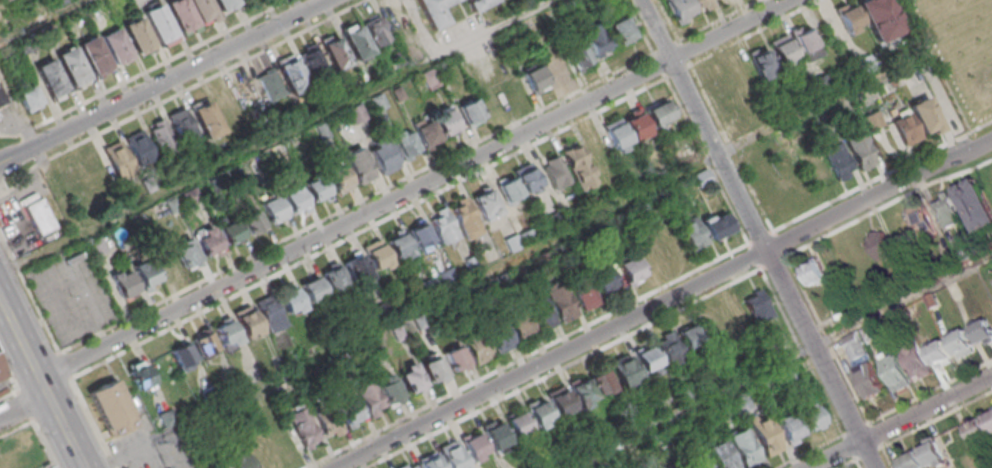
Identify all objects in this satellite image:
building: (1, 0)
building: (224, 3)
building: (478, 4)
building: (700, 5)
road: (911, 6)
building: (201, 8)
building: (678, 10)
building: (433, 12)
building: (180, 13)
building: (849, 17)
building: (880, 18)
road: (41, 20)
road: (715, 20)
building: (158, 22)
road: (420, 28)
road: (492, 28)
building: (620, 29)
building: (376, 30)
road: (750, 33)
building: (137, 34)
building: (595, 39)
building: (355, 40)
building: (806, 43)
building: (115, 45)
road: (665, 46)
building: (782, 50)
building: (333, 51)
building: (93, 54)
building: (577, 55)
building: (312, 58)
building: (761, 63)
building: (72, 65)
building: (556, 65)
road: (936, 65)
road: (676, 70)
road: (146, 71)
building: (291, 73)
building: (50, 78)
building: (534, 78)
building: (429, 79)
road: (163, 81)
building: (719, 84)
building: (270, 86)
road: (178, 93)
building: (2, 99)
building: (28, 99)
building: (378, 101)
building: (469, 111)
building: (657, 112)
building: (355, 113)
building: (206, 118)
building: (444, 122)
building: (916, 122)
building: (636, 124)
building: (182, 127)
building: (426, 133)
building: (617, 135)
building: (161, 137)
building: (404, 142)
building: (139, 147)
building: (860, 150)
road: (40, 153)
building: (381, 154)
building: (117, 159)
building: (838, 161)
road: (217, 165)
building: (577, 165)
building: (361, 170)
building: (554, 171)
road: (881, 176)
building: (339, 177)
building: (527, 179)
building: (315, 187)
road: (416, 188)
building: (508, 189)
building: (294, 197)
building: (483, 201)
building: (975, 204)
building: (172, 206)
building: (272, 208)
building: (947, 210)
road: (333, 213)
building: (39, 217)
building: (466, 219)
building: (251, 221)
building: (922, 221)
building: (443, 226)
building: (717, 226)
road: (369, 227)
building: (229, 231)
building: (419, 234)
road: (759, 234)
road: (761, 236)
building: (694, 239)
building: (207, 241)
building: (512, 242)
building: (880, 244)
building: (97, 245)
building: (398, 245)
road: (804, 247)
building: (186, 253)
building: (377, 256)
building: (354, 267)
building: (628, 268)
building: (815, 272)
building: (145, 273)
building: (446, 276)
building: (333, 278)
building: (603, 278)
road: (470, 281)
building: (123, 284)
building: (312, 288)
road: (28, 293)
building: (585, 295)
building: (289, 299)
building: (560, 299)
road: (662, 302)
building: (758, 307)
building: (268, 311)
building: (540, 311)
building: (247, 321)
building: (518, 324)
building: (982, 331)
building: (226, 332)
building: (497, 336)
building: (690, 336)
road: (19, 338)
building: (859, 341)
building: (961, 343)
building: (205, 344)
building: (476, 347)
building: (783, 347)
building: (671, 350)
road: (801, 351)
building: (940, 353)
building: (182, 356)
road: (528, 356)
building: (454, 357)
building: (649, 360)
road: (782, 361)
building: (916, 362)
road: (63, 365)
building: (432, 368)
road: (563, 369)
building: (2, 371)
building: (625, 371)
road: (9, 373)
building: (894, 373)
building: (138, 375)
building: (786, 377)
building: (411, 378)
building: (601, 381)
building: (868, 381)
building: (709, 383)
road: (43, 387)
building: (767, 389)
building: (389, 390)
road: (928, 390)
building: (582, 392)
building: (686, 394)
building: (370, 398)
building: (561, 401)
road: (24, 404)
building: (741, 404)
road: (23, 406)
road: (927, 406)
building: (110, 408)
building: (720, 411)
building: (349, 412)
building: (539, 413)
building: (812, 416)
road: (936, 420)
building: (328, 422)
road: (93, 423)
building: (517, 423)
building: (303, 426)
road: (855, 427)
building: (789, 428)
building: (980, 428)
road: (65, 432)
road: (874, 433)
building: (495, 435)
building: (767, 436)
road: (42, 442)
building: (473, 446)
building: (746, 447)
building: (579, 449)
road: (810, 449)
road: (834, 453)
building: (452, 455)
building: (723, 455)
road: (885, 456)
building: (923, 457)
building: (239, 460)
building: (698, 460)
building: (429, 461)
road: (848, 464)
road: (858, 464)
building: (220, 465)
building: (408, 465)
building: (681, 466)
building: (593, 467)

